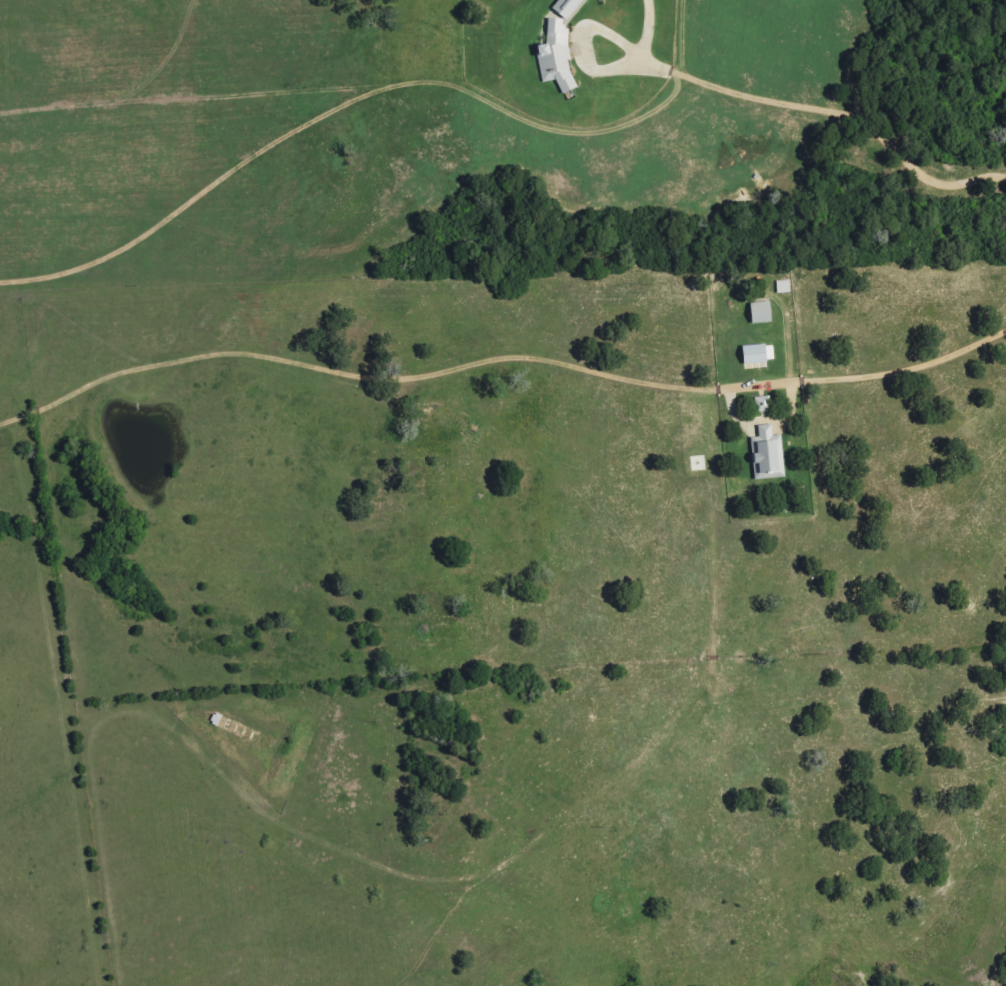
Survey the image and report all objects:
building: (560, 47)
road: (827, 114)
building: (763, 313)
road: (875, 376)
building: (769, 455)

